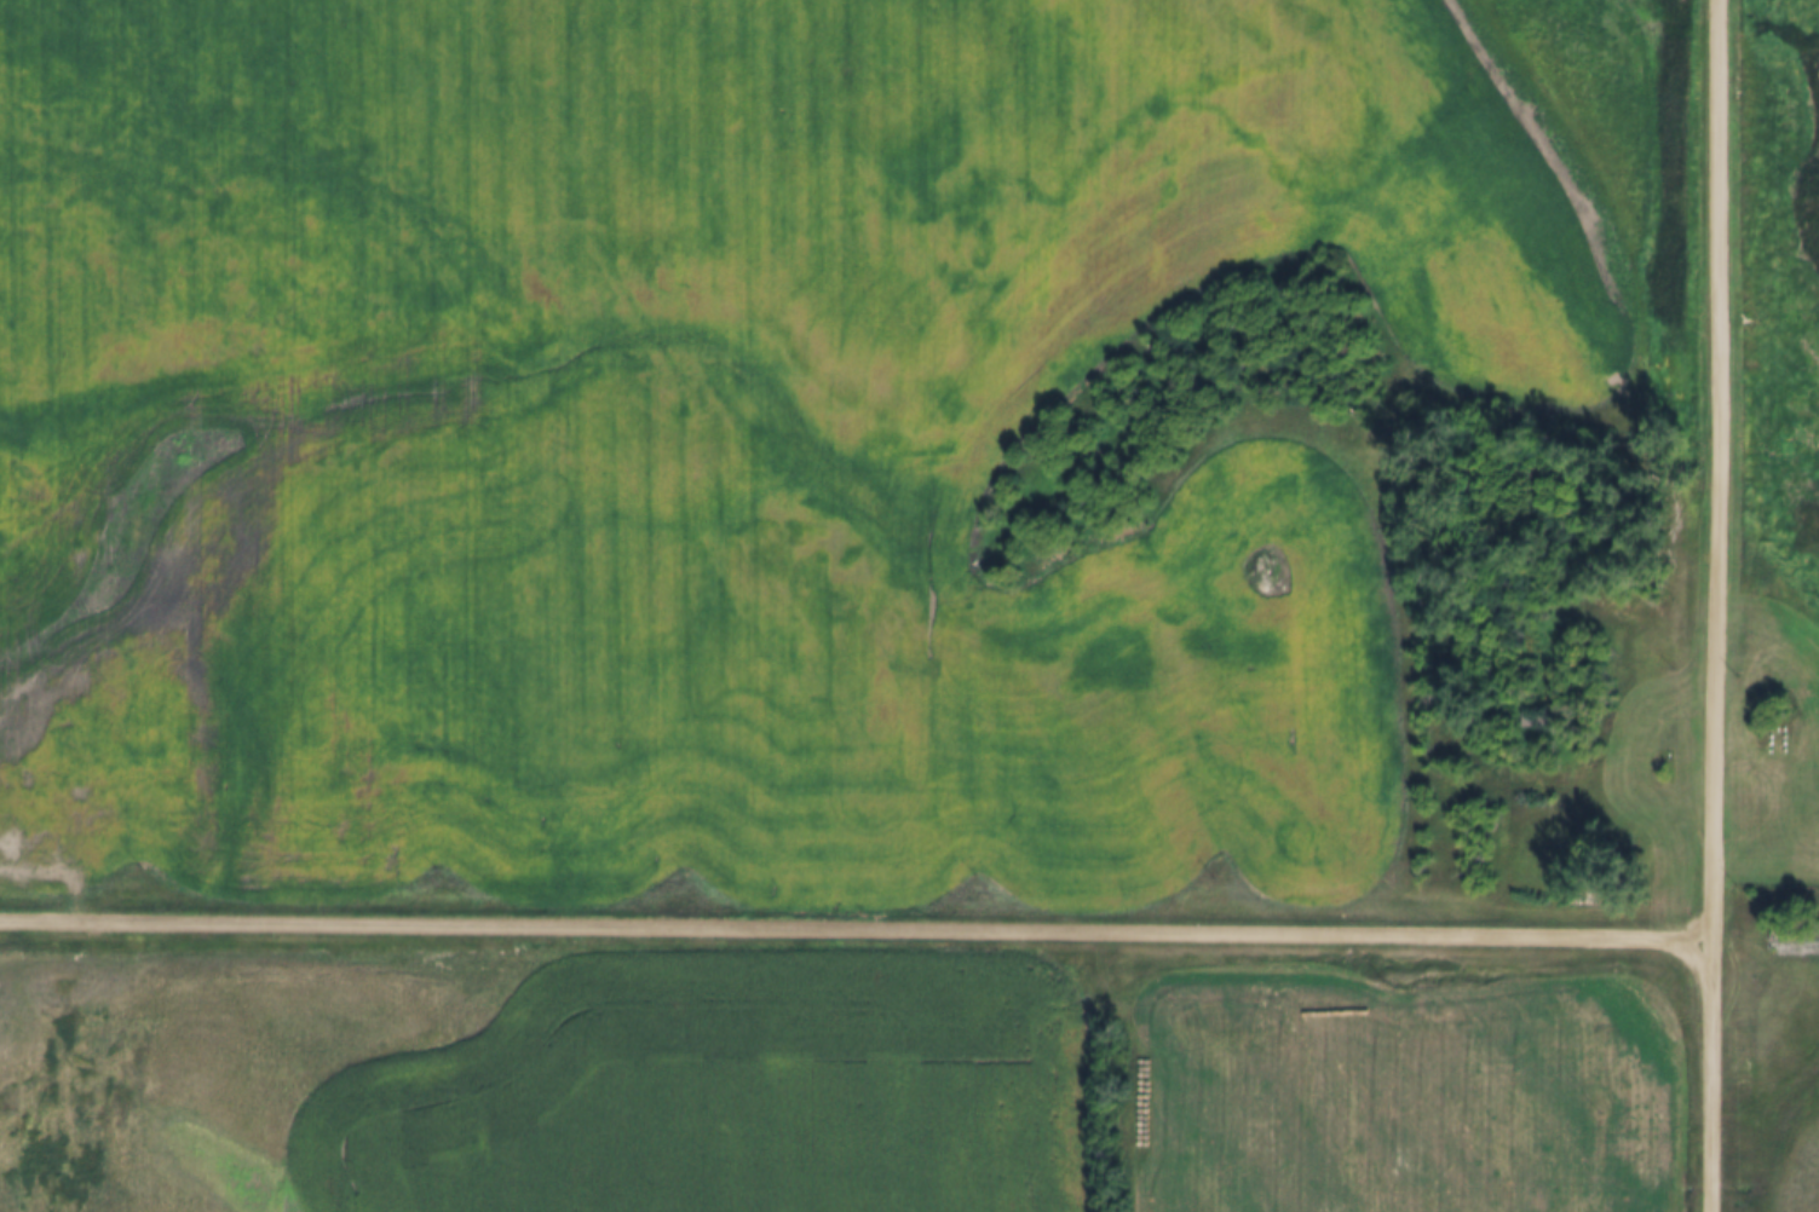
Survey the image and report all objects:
road: (1706, 606)
road: (853, 925)

